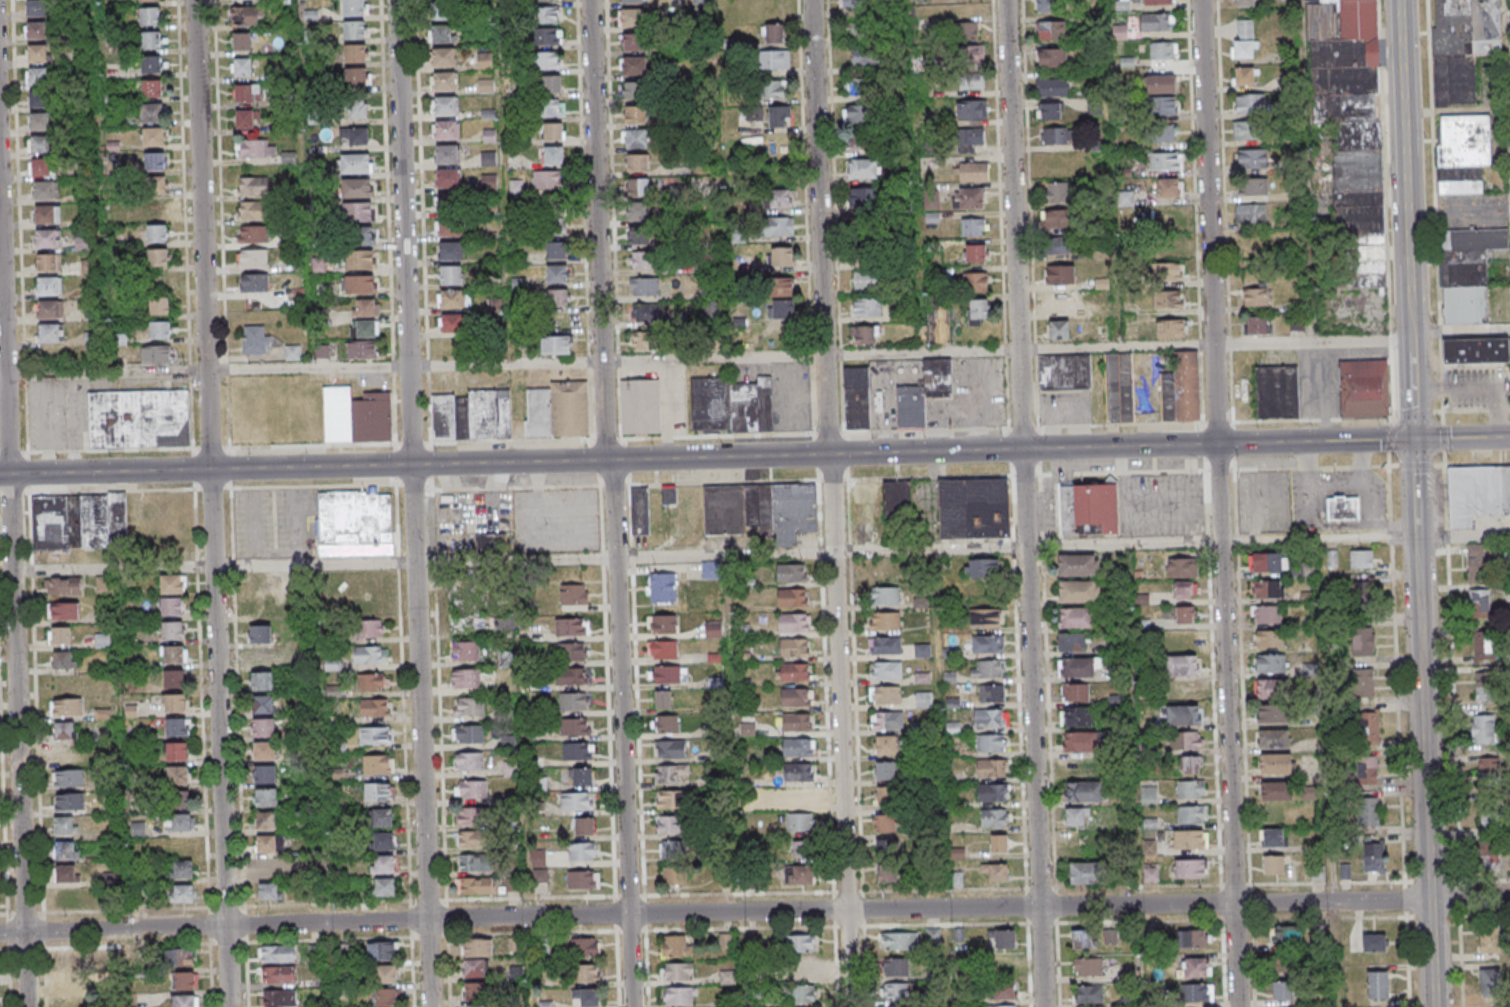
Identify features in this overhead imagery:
building: (149, 0)
building: (631, 1)
building: (1158, 1)
building: (1244, 2)
building: (851, 4)
building: (1122, 5)
building: (1046, 6)
building: (36, 8)
building: (356, 8)
building: (442, 11)
building: (547, 14)
building: (243, 15)
building: (148, 16)
building: (630, 17)
building: (1156, 21)
building: (354, 29)
building: (966, 30)
building: (1051, 30)
building: (36, 31)
building: (1119, 31)
building: (856, 32)
building: (774, 33)
building: (441, 34)
building: (548, 35)
building: (1244, 39)
building: (149, 40)
building: (241, 41)
building: (633, 42)
road: (1508, 45)
building: (1462, 46)
building: (1161, 51)
building: (355, 53)
building: (38, 54)
building: (971, 54)
building: (443, 57)
building: (861, 57)
building: (1052, 57)
building: (778, 59)
building: (547, 60)
building: (484, 61)
building: (151, 65)
building: (634, 65)
building: (242, 66)
building: (357, 76)
building: (1243, 77)
building: (444, 82)
building: (1160, 83)
building: (550, 84)
building: (486, 87)
building: (1050, 87)
building: (40, 88)
building: (854, 88)
building: (151, 89)
building: (774, 89)
building: (633, 90)
building: (247, 92)
building: (1249, 104)
building: (1163, 105)
building: (444, 106)
building: (357, 108)
building: (551, 108)
building: (971, 109)
building: (1050, 111)
building: (152, 113)
building: (635, 114)
building: (858, 115)
building: (779, 116)
building: (244, 119)
building: (40, 122)
building: (1246, 129)
building: (445, 131)
building: (551, 131)
building: (1158, 134)
building: (1349, 134)
building: (355, 135)
building: (1055, 135)
building: (153, 138)
building: (635, 138)
building: (969, 138)
building: (859, 142)
building: (40, 145)
building: (256, 148)
building: (1462, 153)
building: (446, 155)
building: (552, 155)
building: (1251, 158)
building: (154, 161)
building: (637, 162)
building: (1166, 162)
building: (355, 163)
building: (41, 168)
building: (862, 169)
building: (972, 170)
road: (1309, 170)
road: (1112, 173)
building: (447, 179)
building: (547, 180)
building: (159, 184)
building: (253, 185)
building: (638, 186)
building: (1253, 186)
building: (358, 188)
building: (1168, 189)
building: (44, 190)
building: (1057, 192)
building: (968, 197)
building: (863, 198)
building: (778, 199)
building: (449, 203)
building: (253, 209)
building: (158, 210)
building: (358, 211)
building: (639, 211)
building: (47, 214)
building: (1250, 214)
building: (1058, 219)
building: (557, 220)
road: (1412, 220)
building: (974, 226)
building: (448, 228)
building: (779, 228)
building: (253, 233)
building: (157, 234)
building: (362, 236)
building: (640, 236)
building: (45, 238)
building: (1059, 245)
building: (557, 250)
building: (449, 251)
building: (976, 252)
building: (253, 257)
building: (782, 257)
building: (157, 258)
building: (361, 260)
building: (48, 261)
building: (642, 261)
building: (1167, 272)
building: (557, 273)
building: (1467, 273)
building: (1060, 274)
building: (451, 275)
building: (865, 280)
building: (254, 282)
building: (975, 282)
building: (359, 283)
building: (48, 285)
building: (644, 287)
building: (781, 287)
building: (1255, 296)
building: (559, 297)
building: (450, 298)
building: (1168, 300)
building: (1061, 301)
building: (159, 305)
building: (365, 307)
building: (865, 307)
building: (48, 308)
building: (781, 309)
building: (978, 311)
building: (648, 313)
building: (939, 321)
building: (452, 322)
building: (1256, 324)
building: (367, 328)
building: (1059, 329)
building: (1168, 329)
road: (1463, 329)
building: (159, 330)
building: (51, 332)
building: (865, 334)
building: (256, 339)
building: (645, 342)
road: (1220, 343)
building: (556, 344)
building: (362, 349)
building: (1475, 350)
building: (292, 352)
road: (927, 353)
building: (157, 355)
road: (719, 360)
road: (511, 365)
road: (313, 369)
building: (1064, 372)
road: (110, 374)
road: (4, 376)
building: (1119, 387)
building: (1363, 388)
building: (1184, 389)
building: (1277, 392)
building: (923, 394)
building: (857, 397)
building: (731, 406)
building: (640, 407)
building: (558, 410)
building: (357, 415)
building: (472, 415)
building: (138, 419)
road: (77, 423)
road: (51, 424)
road: (1465, 438)
traffic signals: (1421, 440)
road: (1321, 441)
road: (611, 460)
road: (1420, 466)
road: (1336, 482)
building: (1477, 494)
building: (897, 497)
road: (619, 502)
road: (216, 503)
road: (419, 503)
road: (836, 503)
road: (1029, 503)
road: (1225, 503)
building: (1342, 507)
building: (974, 508)
building: (761, 510)
building: (1088, 510)
building: (640, 511)
building: (79, 521)
building: (355, 523)
road: (1466, 537)
building: (491, 540)
road: (1325, 540)
road: (1129, 544)
road: (826, 552)
road: (521, 558)
road: (15, 559)
building: (1361, 559)
building: (1268, 562)
road: (318, 563)
building: (1478, 563)
building: (1077, 566)
road: (116, 567)
building: (1182, 567)
building: (982, 568)
building: (791, 572)
building: (171, 584)
building: (62, 586)
building: (663, 587)
building: (1185, 589)
building: (1267, 589)
building: (1079, 592)
building: (574, 594)
building: (1363, 594)
building: (885, 596)
building: (792, 597)
building: (476, 601)
building: (1479, 603)
building: (171, 606)
building: (63, 610)
building: (1266, 613)
building: (1186, 614)
building: (985, 617)
building: (1075, 618)
building: (884, 620)
building: (794, 622)
building: (508, 623)
building: (662, 624)
building: (570, 626)
building: (369, 629)
building: (713, 629)
building: (173, 630)
building: (60, 634)
building: (261, 635)
building: (1267, 638)
building: (1364, 641)
building: (1073, 642)
building: (987, 643)
building: (884, 645)
building: (793, 647)
building: (1484, 647)
building: (662, 649)
building: (922, 650)
building: (572, 651)
building: (465, 652)
building: (173, 654)
building: (370, 655)
building: (64, 659)
building: (262, 659)
building: (1269, 662)
building: (1181, 665)
building: (1079, 667)
building: (987, 668)
road: (1427, 669)
building: (886, 670)
building: (794, 671)
building: (668, 674)
building: (572, 676)
building: (174, 677)
building: (466, 679)
building: (262, 681)
building: (374, 681)
building: (1363, 682)
building: (1483, 687)
building: (1270, 688)
building: (992, 693)
building: (1076, 693)
building: (885, 694)
building: (797, 696)
building: (663, 698)
building: (923, 699)
building: (574, 701)
building: (174, 702)
building: (263, 705)
building: (66, 706)
building: (375, 707)
building: (469, 707)
building: (1272, 713)
building: (1183, 715)
building: (1076, 716)
building: (990, 718)
building: (888, 720)
building: (794, 721)
building: (665, 723)
building: (176, 726)
building: (575, 726)
building: (262, 728)
building: (1368, 728)
building: (1483, 729)
building: (65, 730)
building: (375, 735)
building: (468, 735)
building: (1273, 738)
building: (508, 741)
building: (1080, 741)
building: (1185, 741)
building: (990, 743)
building: (886, 744)
building: (798, 747)
building: (671, 749)
building: (176, 751)
building: (264, 751)
building: (577, 752)
building: (67, 754)
building: (469, 762)
building: (1275, 763)
building: (378, 764)
building: (1190, 765)
building: (991, 768)
building: (510, 769)
building: (884, 770)
building: (1366, 770)
building: (798, 771)
building: (1488, 771)
building: (265, 773)
building: (669, 773)
road: (1328, 773)
building: (177, 776)
building: (582, 777)
road: (944, 778)
building: (67, 779)
road: (741, 781)
building: (1190, 789)
building: (472, 790)
building: (1275, 790)
building: (378, 792)
building: (993, 792)
building: (1084, 793)
building: (1148, 795)
building: (803, 796)
building: (887, 796)
building: (265, 797)
building: (671, 799)
building: (578, 802)
building: (69, 803)
building: (1369, 811)
building: (1193, 814)
building: (473, 817)
building: (1074, 817)
building: (382, 818)
building: (994, 818)
building: (265, 819)
building: (1490, 820)
building: (799, 822)
building: (178, 823)
building: (884, 823)
building: (668, 826)
building: (64, 827)
building: (583, 827)
building: (137, 830)
building: (1273, 837)
building: (1191, 839)
building: (469, 840)
building: (383, 842)
building: (269, 843)
building: (999, 843)
building: (178, 846)
building: (803, 849)
building: (888, 849)
building: (674, 850)
building: (65, 851)
road: (527, 852)
building: (582, 852)
building: (1374, 857)
building: (538, 859)
building: (1491, 860)
building: (475, 863)
building: (383, 865)
building: (1273, 865)
building: (267, 867)
building: (181, 869)
building: (1189, 869)
building: (995, 871)
building: (1085, 873)
building: (1317, 873)
building: (65, 874)
building: (799, 874)
building: (888, 874)
building: (1151, 874)
building: (540, 876)
building: (675, 876)
building: (583, 879)
building: (512, 884)
building: (476, 886)
building: (383, 888)
building: (268, 891)
building: (181, 893)
building: (66, 898)
road: (754, 911)
building: (1286, 936)
building: (1003, 937)
building: (1193, 938)
building: (1080, 940)
building: (899, 941)
building: (1489, 941)
building: (1374, 942)
building: (799, 944)
building: (584, 946)
building: (676, 946)
building: (477, 948)
building: (382, 950)
road: (1437, 953)
building: (276, 954)
building: (182, 957)
building: (1005, 965)
building: (1284, 966)
building: (896, 967)
building: (1088, 967)
building: (1197, 968)
building: (474, 969)
building: (801, 969)
building: (74, 972)
building: (677, 972)
building: (1128, 972)
building: (386, 973)
building: (515, 973)
building: (279, 974)
building: (588, 974)
building: (1490, 977)
building: (184, 981)
building: (1378, 984)
building: (475, 991)
building: (1003, 991)
building: (895, 992)
building: (1282, 992)
building: (799, 993)
building: (1197, 993)
building: (1089, 994)
building: (679, 995)
building: (386, 996)
building: (278, 997)
building: (588, 998)
building: (73, 1001)
building: (182, 1001)
building: (1002, 1006)

